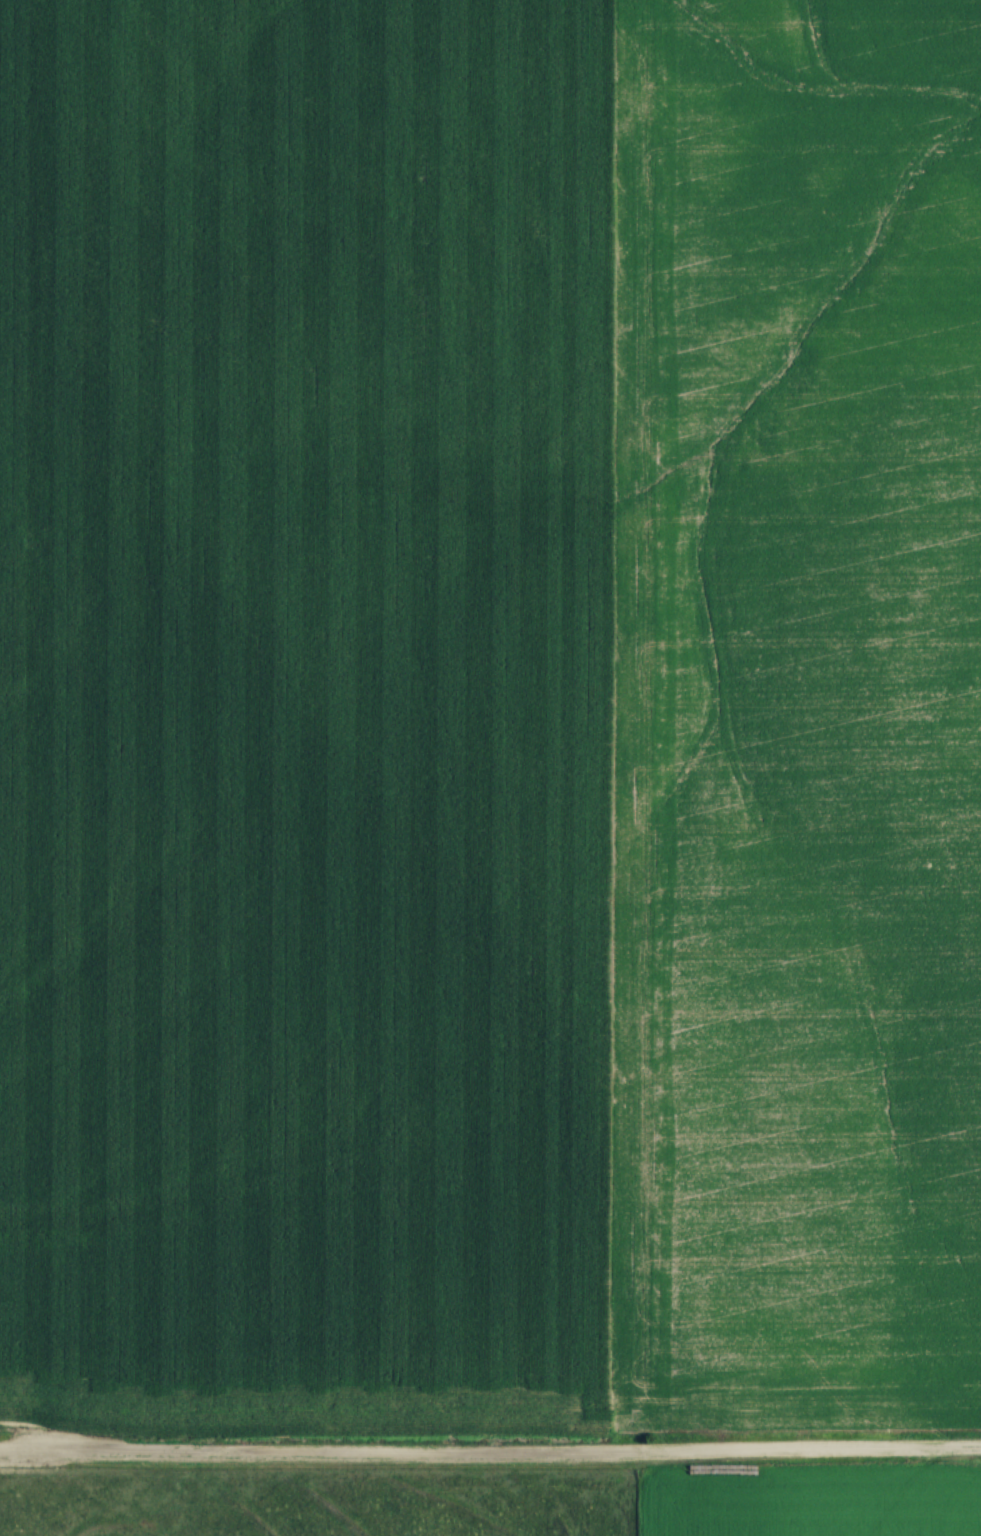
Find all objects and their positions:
road: (490, 1454)

